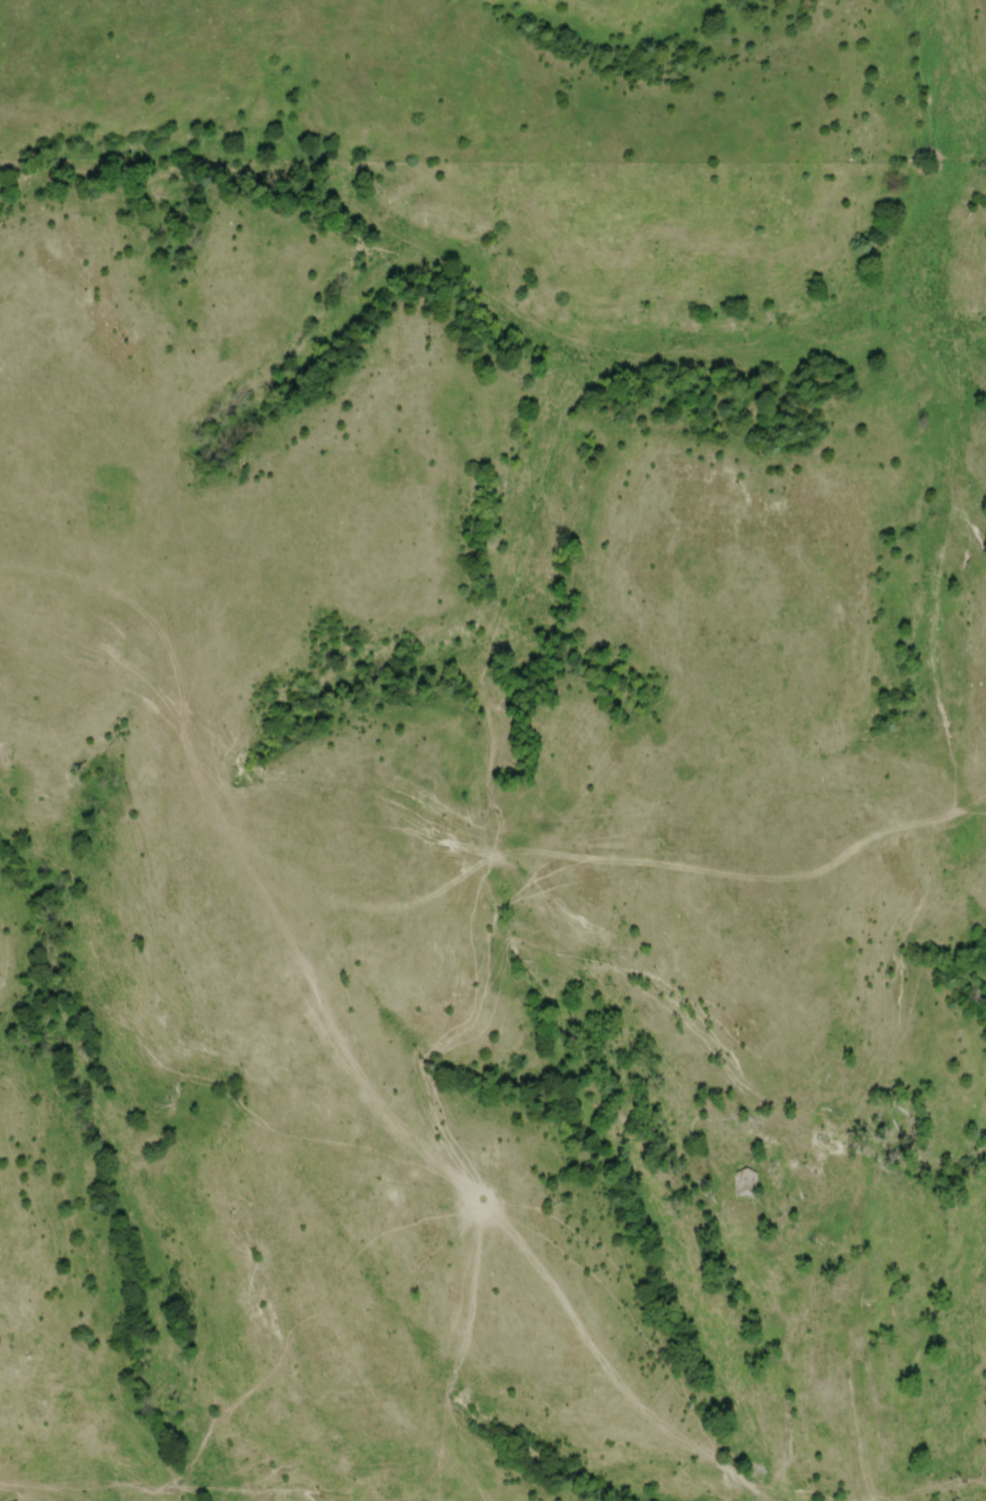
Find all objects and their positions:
building: (750, 1185)

